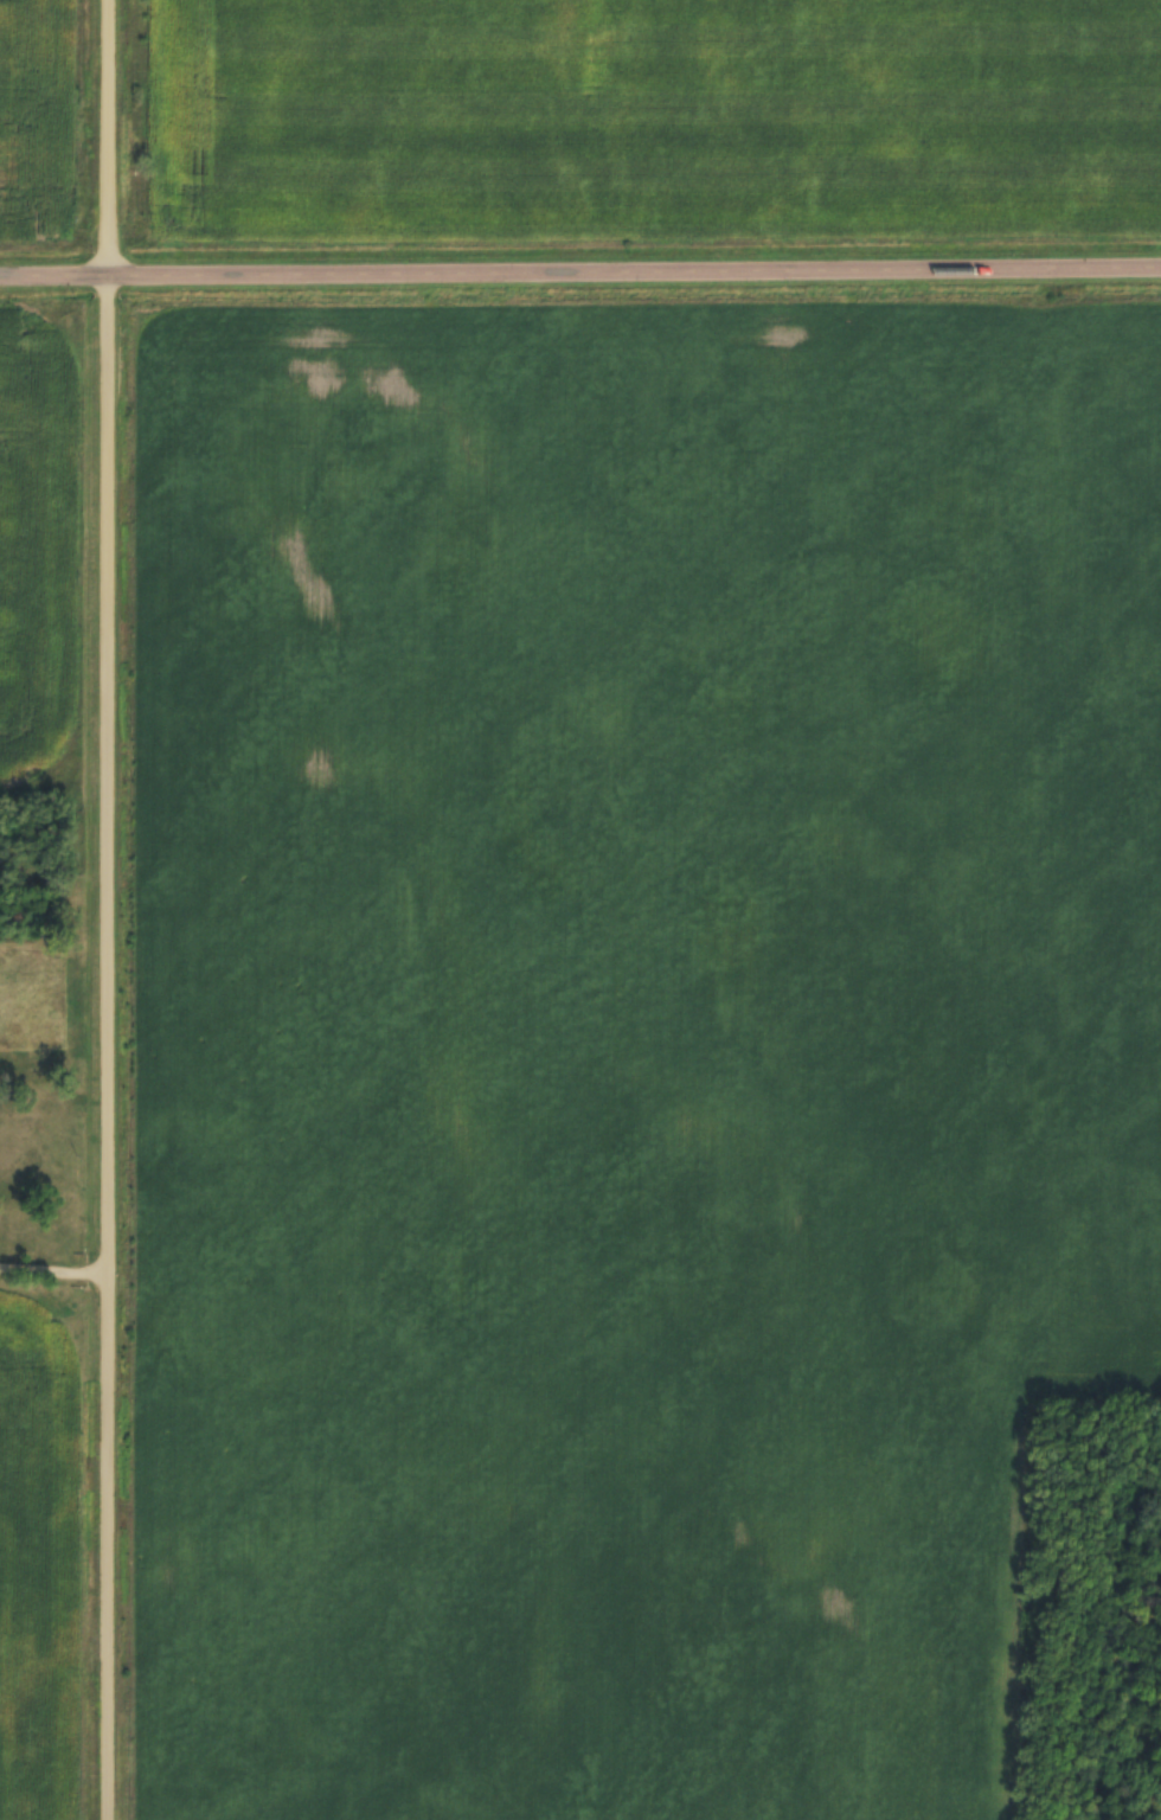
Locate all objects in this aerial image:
road: (580, 274)
road: (107, 909)
road: (53, 1275)

